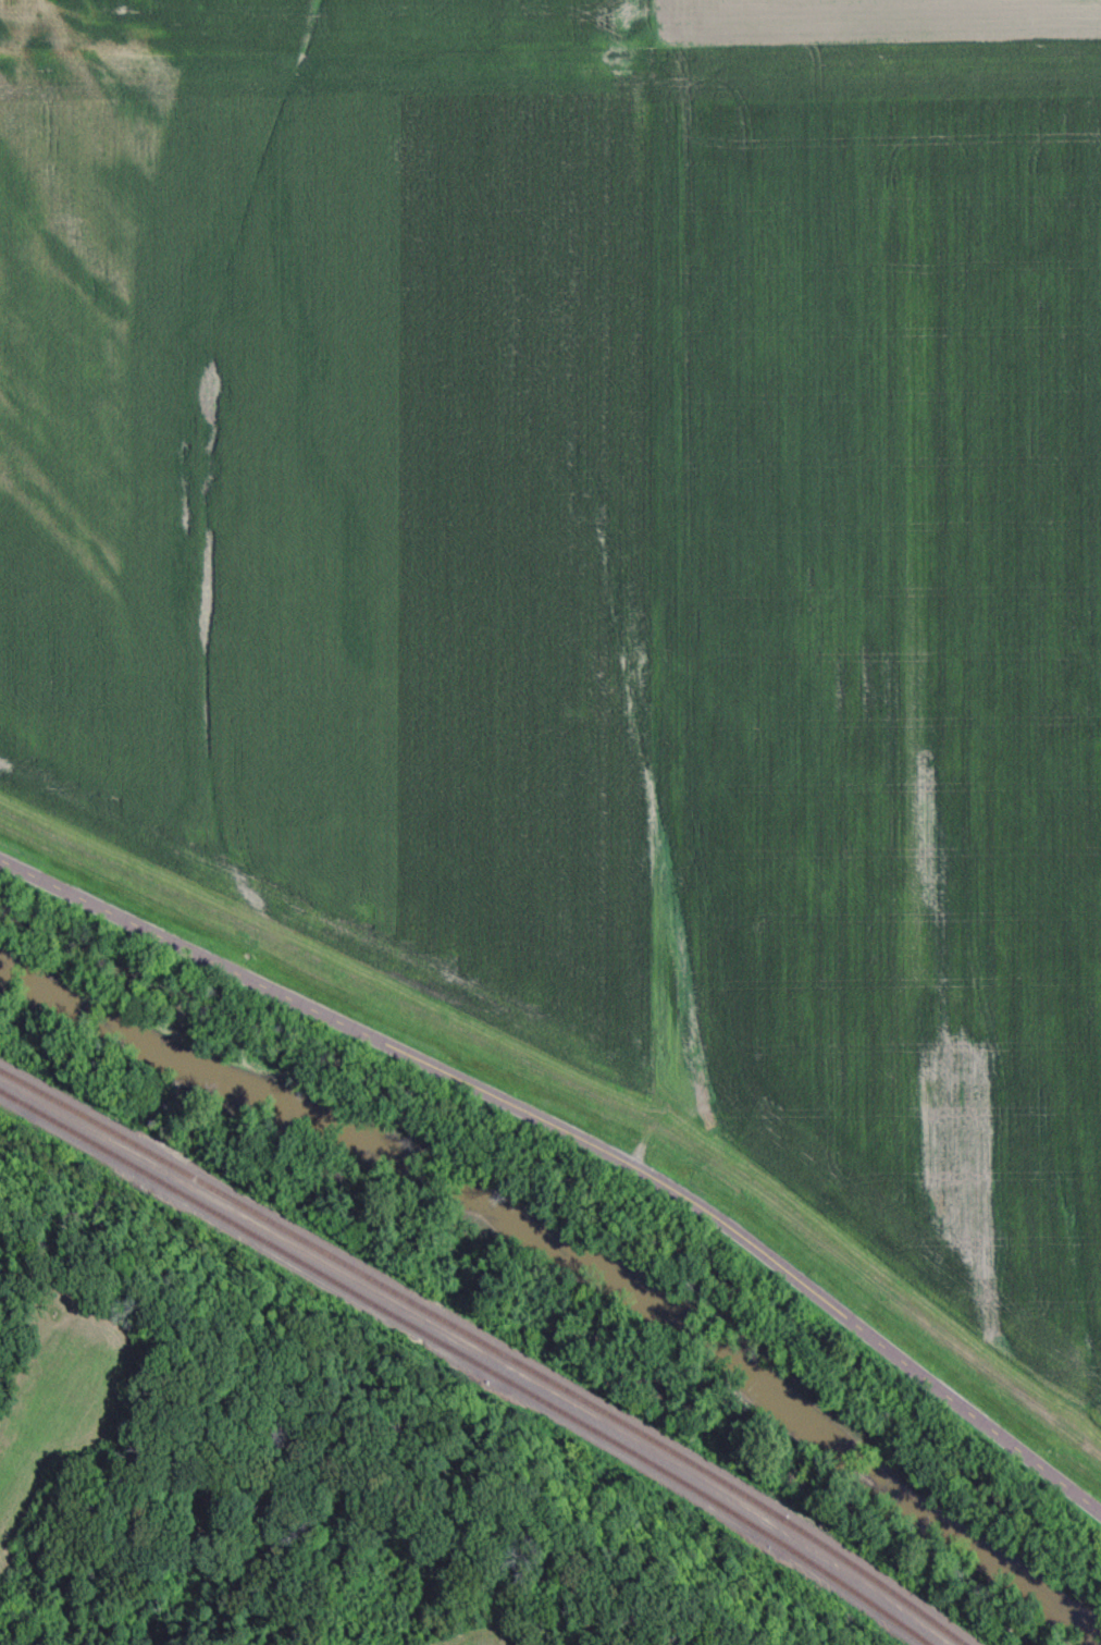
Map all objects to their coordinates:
crop: (882, 23)
crop: (346, 472)
crop: (889, 663)
road: (580, 1141)
river: (574, 1237)
railway: (486, 1349)
railway: (468, 1361)

